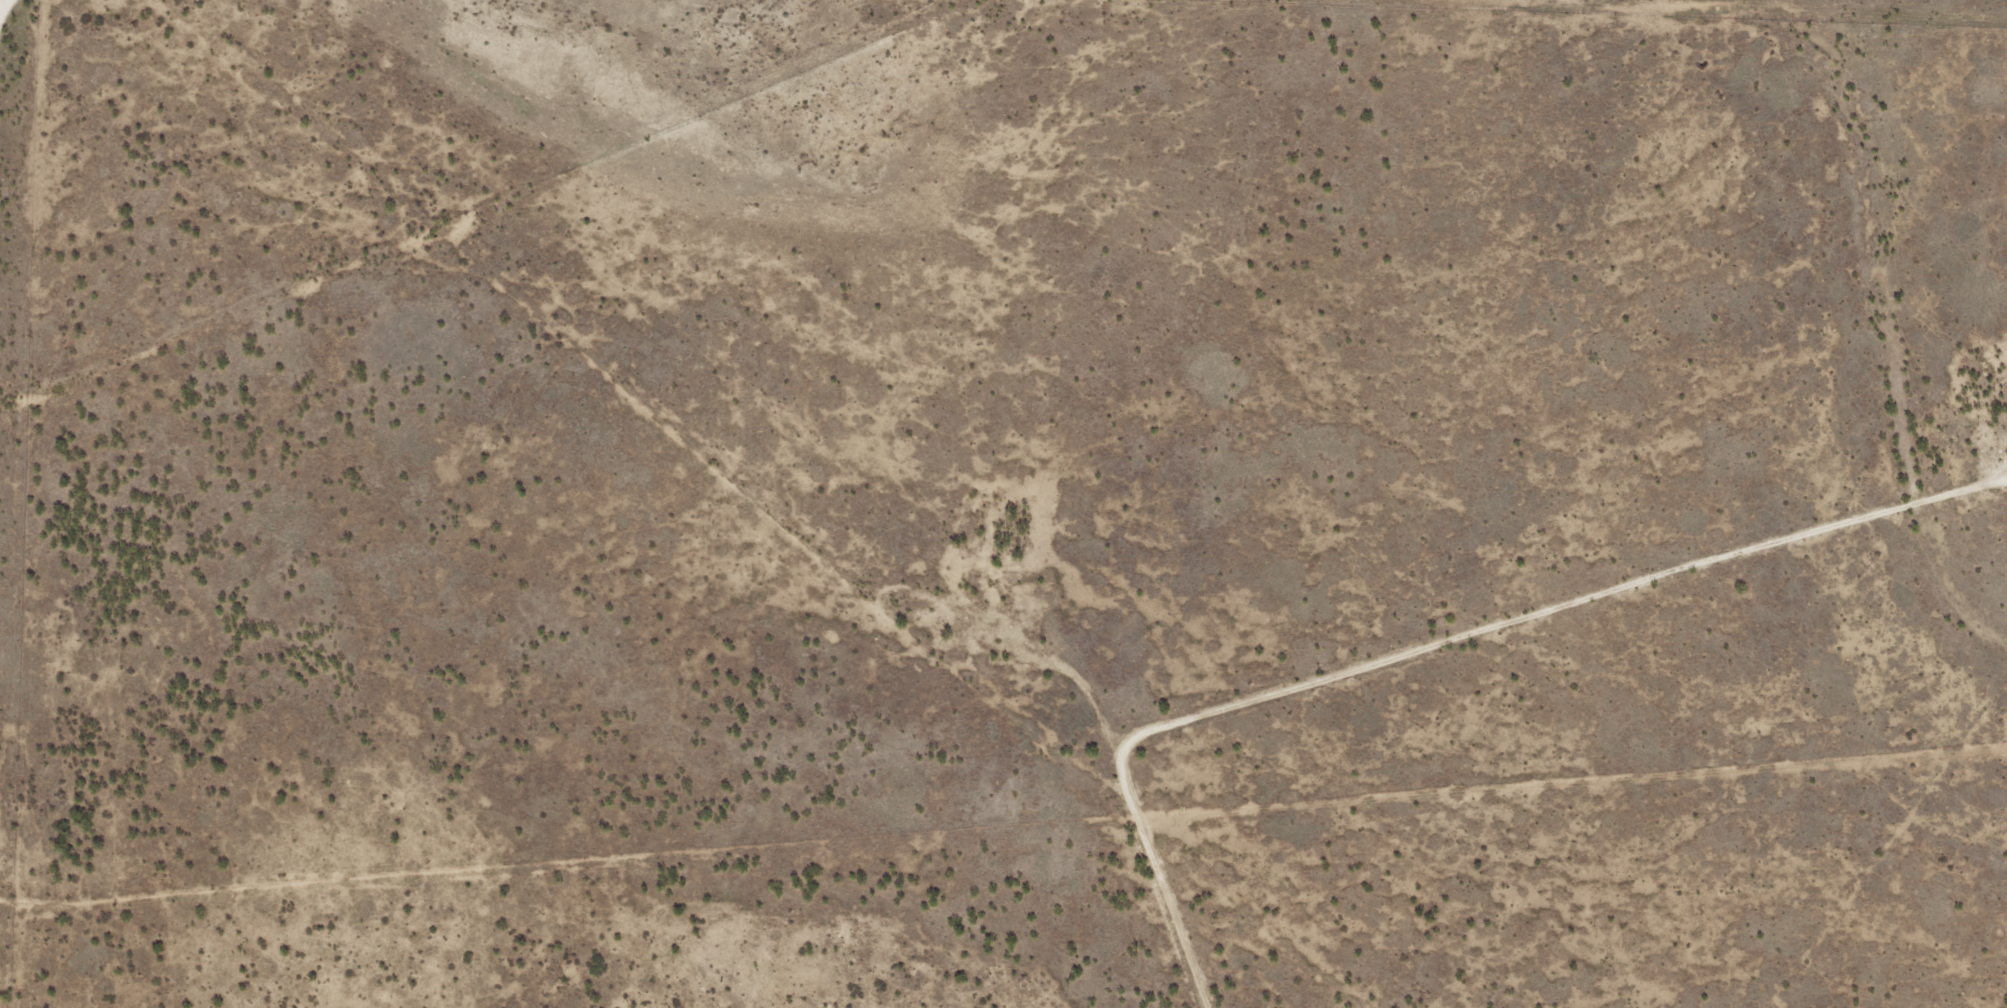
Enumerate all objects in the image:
road: (18, 474)

